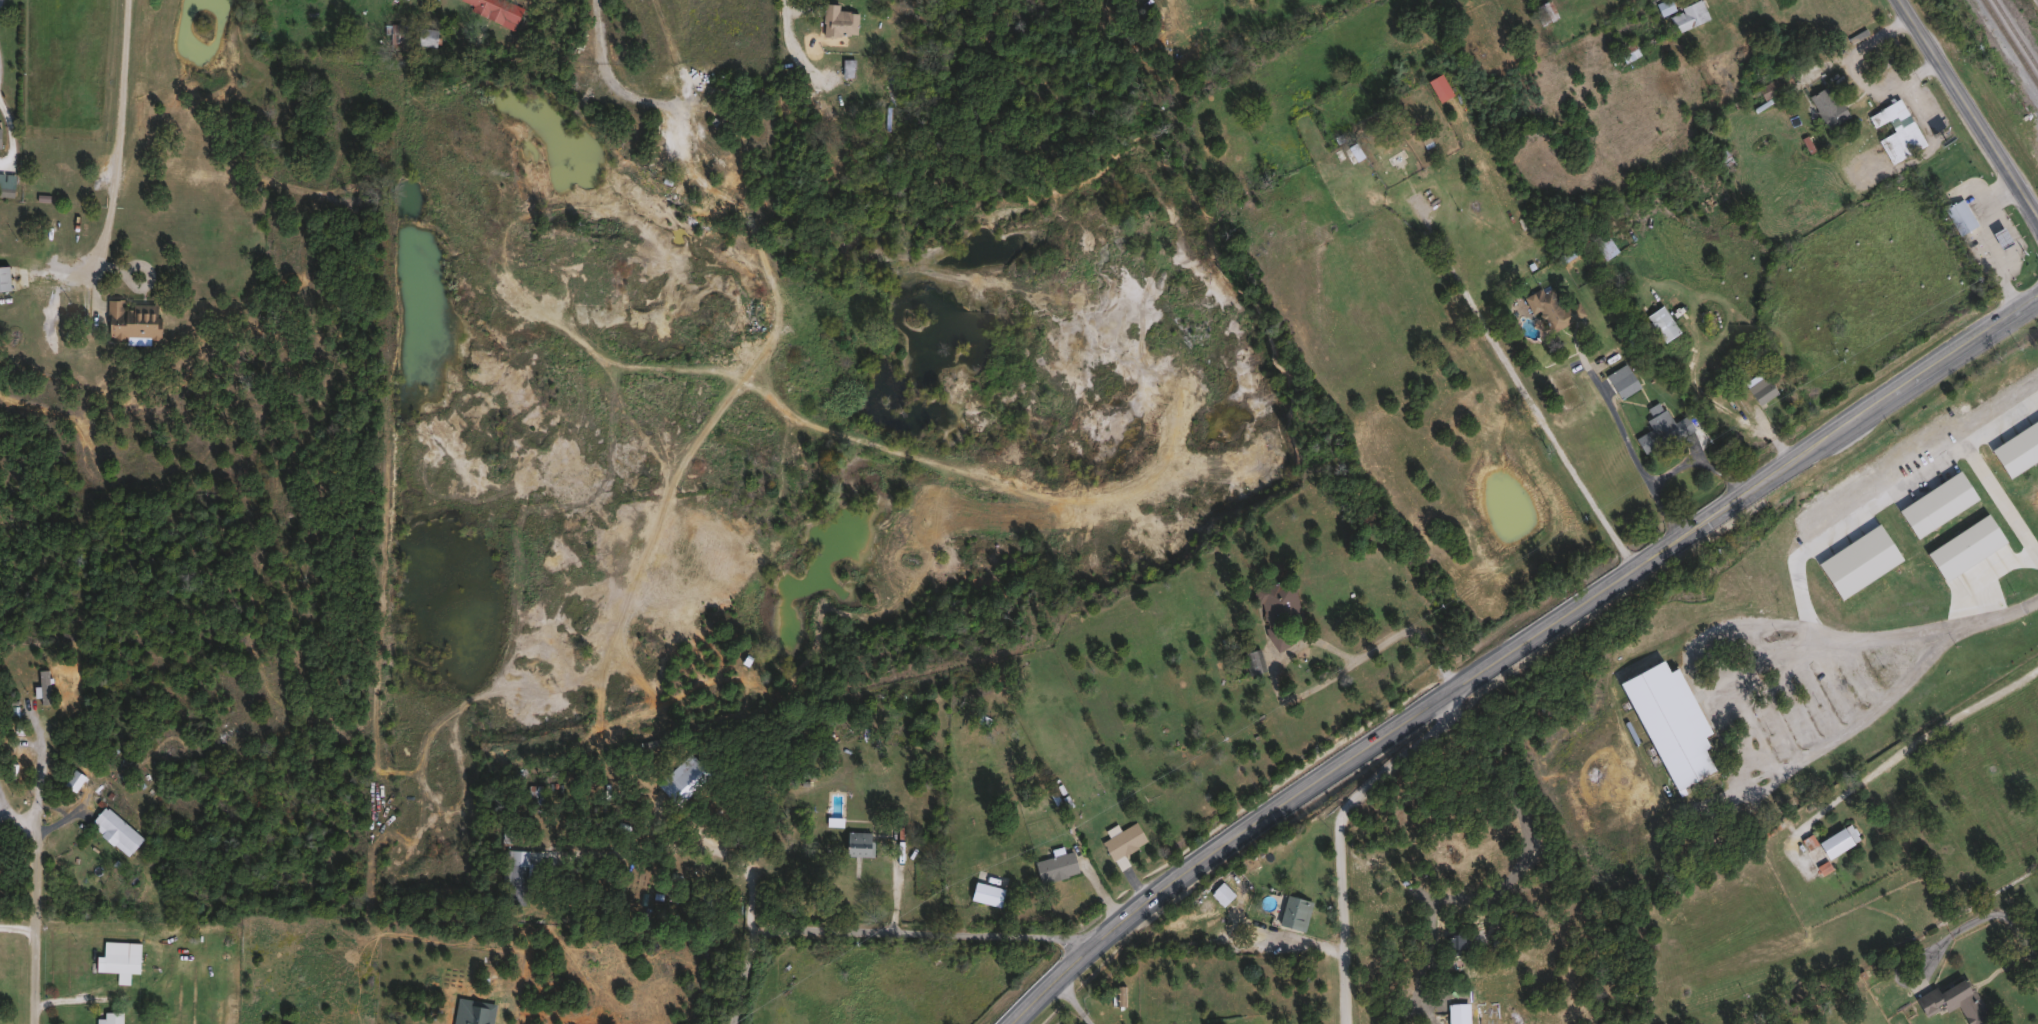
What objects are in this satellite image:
building: (1664, 6)
building: (494, 9)
building: (1687, 15)
railway: (2016, 33)
building: (425, 36)
railway: (2011, 41)
building: (1627, 52)
building: (847, 67)
road: (1857, 74)
building: (1773, 85)
road: (714, 103)
building: (1826, 106)
road: (1967, 111)
road: (119, 132)
building: (1387, 149)
building: (1325, 165)
building: (1709, 201)
building: (1959, 215)
road: (1988, 244)
building: (1602, 245)
building: (3, 277)
building: (1549, 309)
building: (130, 319)
building: (1661, 323)
building: (1620, 380)
road: (1522, 385)
building: (1761, 390)
road: (1858, 420)
building: (2026, 429)
road: (1623, 440)
road: (1714, 455)
building: (1974, 487)
road: (2001, 500)
road: (1655, 553)
road: (1794, 564)
building: (1275, 609)
road: (1318, 642)
building: (37, 678)
building: (1667, 722)
road: (1753, 748)
road: (1910, 749)
building: (17, 757)
road: (42, 768)
road: (1311, 784)
building: (535, 793)
road: (16, 821)
building: (116, 829)
building: (1121, 840)
building: (857, 843)
road: (696, 845)
building: (1054, 866)
road: (37, 869)
building: (516, 876)
building: (1220, 892)
road: (893, 893)
building: (985, 893)
road: (1344, 895)
building: (1293, 912)
road: (1428, 914)
road: (1247, 925)
road: (17, 929)
road: (884, 934)
building: (1463, 942)
road: (154, 960)
building: (116, 964)
building: (1115, 995)
road: (1073, 1001)
building: (1952, 1001)
building: (1457, 1013)
building: (111, 1017)

